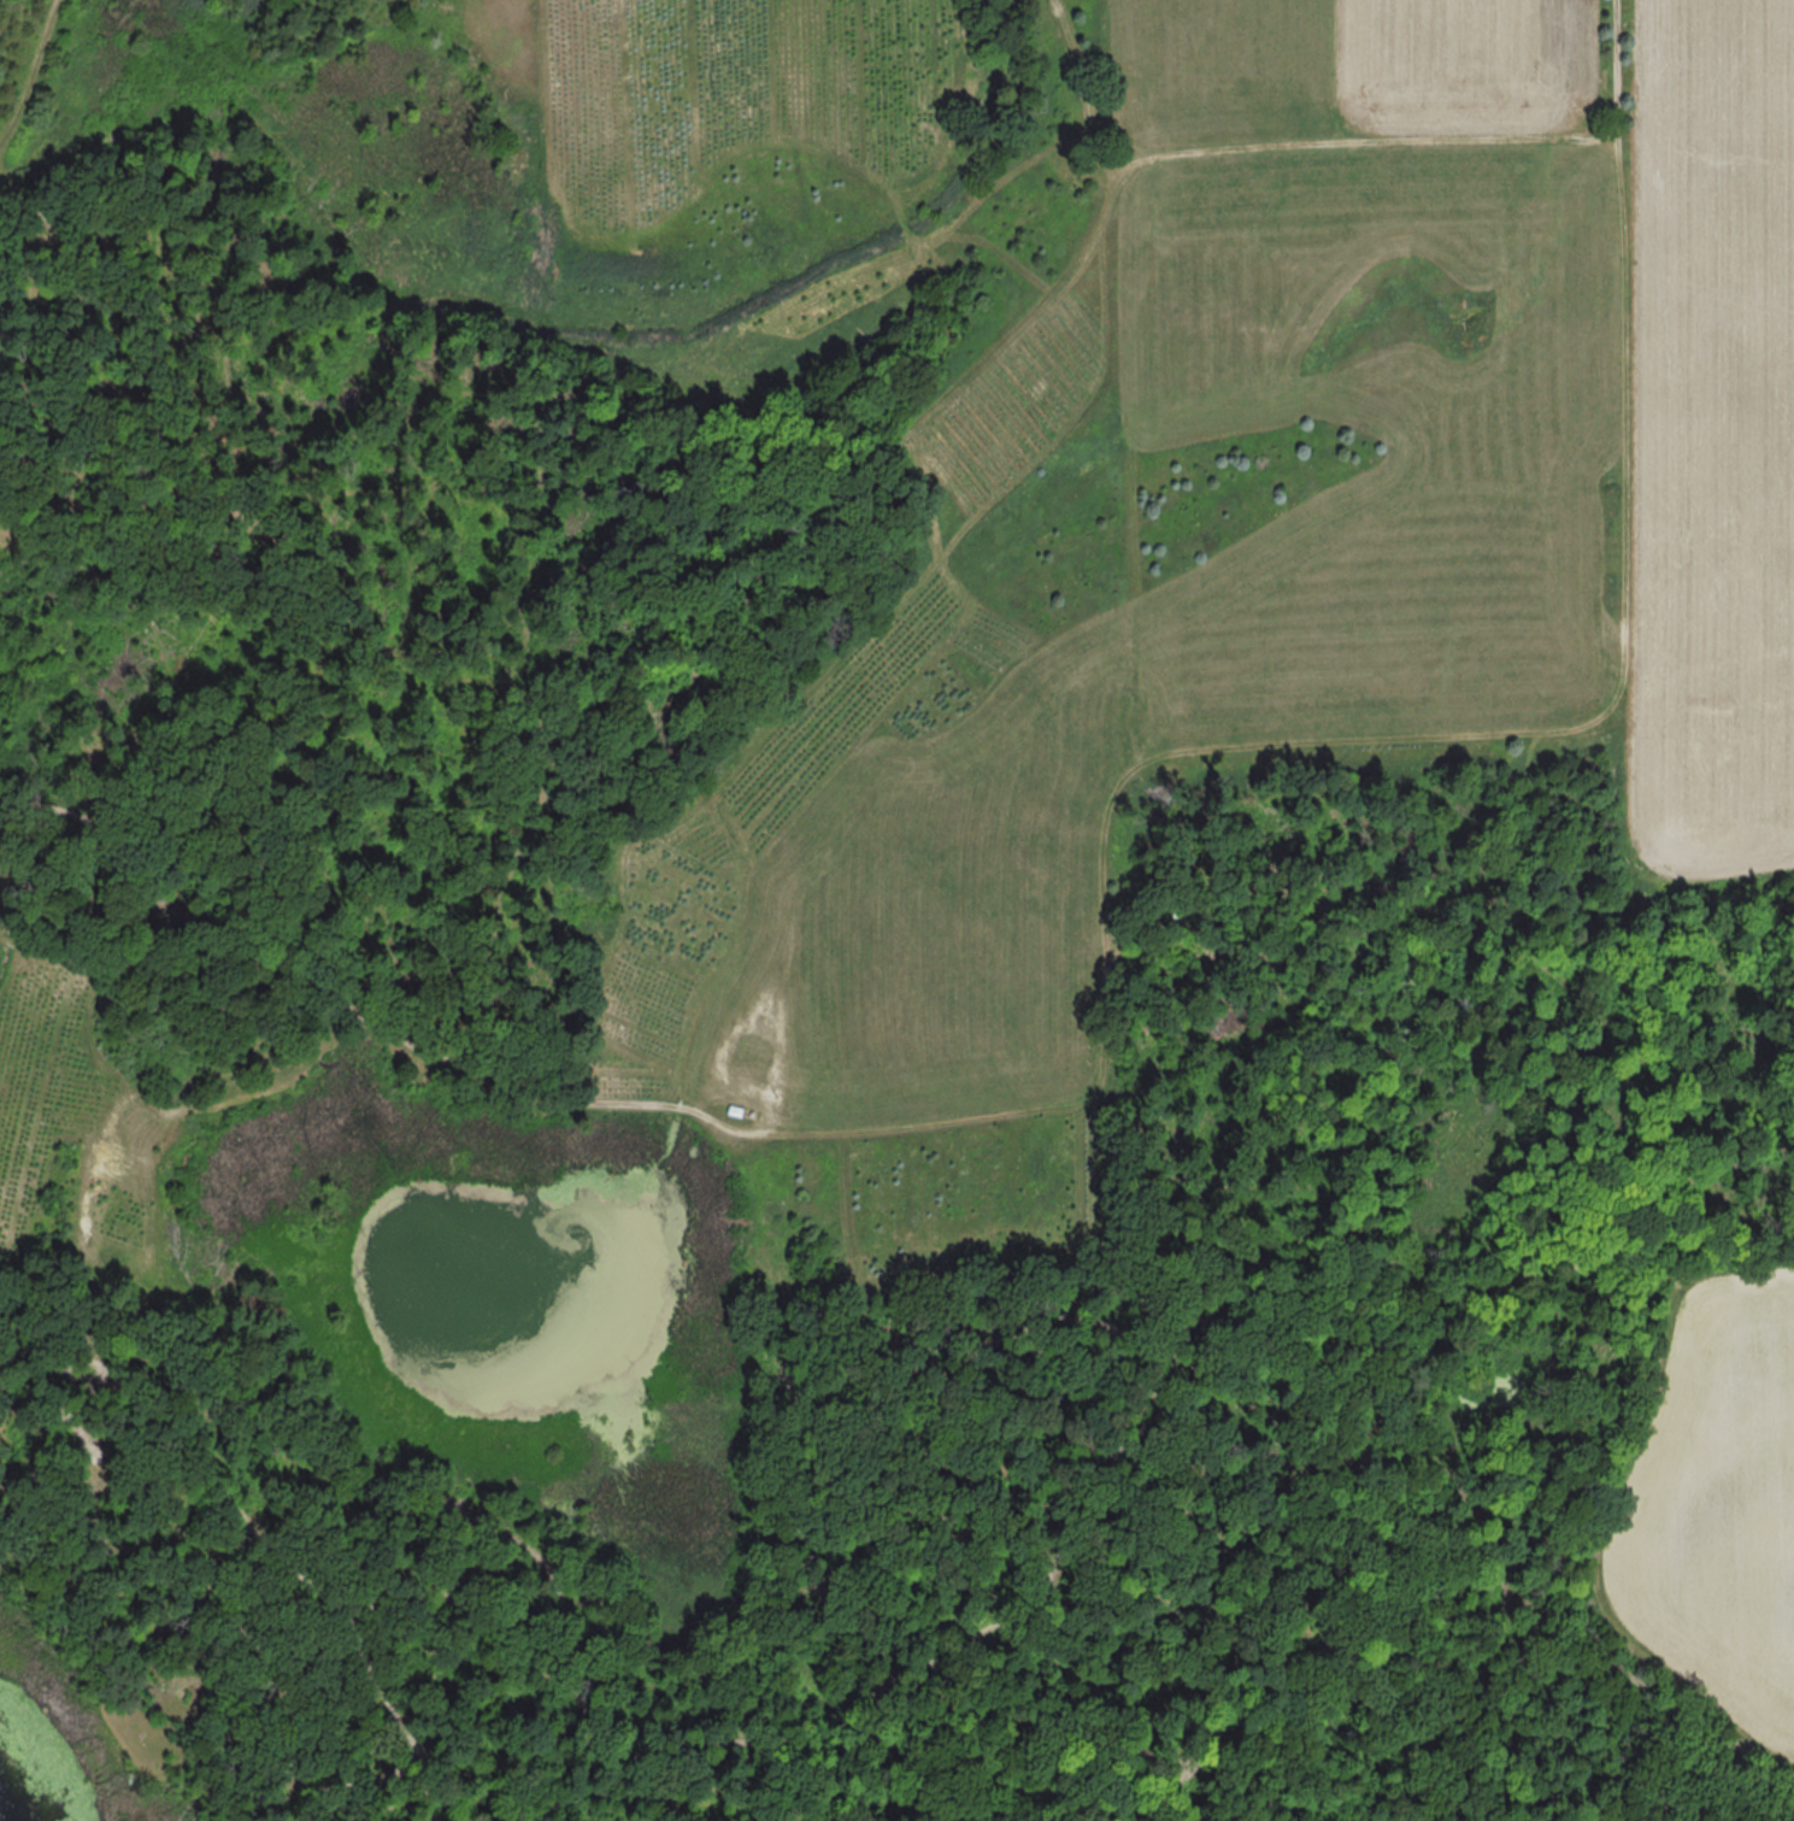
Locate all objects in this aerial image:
road: (346, 998)
park: (10, 1551)

